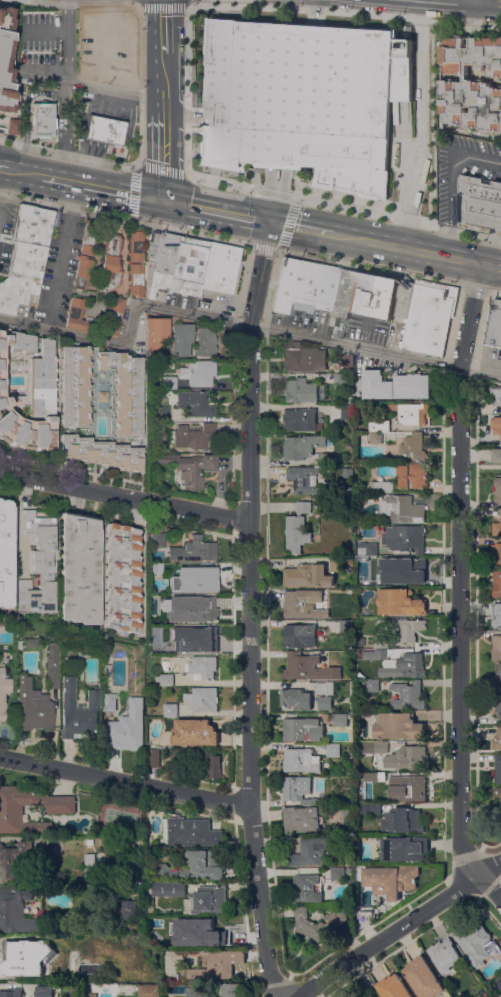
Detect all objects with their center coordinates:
road: (44, 1)
road: (467, 1)
road: (479, 1)
road: (490, 2)
road: (163, 5)
road: (344, 14)
road: (163, 28)
road: (47, 30)
building: (114, 34)
road: (67, 49)
building: (6, 60)
road: (164, 84)
building: (470, 85)
road: (97, 86)
road: (40, 92)
building: (304, 100)
building: (43, 119)
road: (430, 124)
building: (10, 125)
road: (187, 125)
road: (418, 125)
building: (105, 130)
road: (64, 139)
road: (24, 140)
road: (164, 156)
road: (102, 161)
road: (135, 166)
road: (3, 168)
road: (23, 172)
road: (449, 180)
road: (102, 188)
traffic signals: (163, 201)
building: (480, 204)
road: (216, 212)
road: (124, 217)
road: (397, 217)
road: (287, 219)
traffic signals: (270, 223)
road: (300, 228)
parking lot: (5, 230)
building: (89, 237)
building: (135, 245)
road: (61, 246)
road: (403, 249)
building: (24, 256)
building: (175, 263)
building: (110, 265)
road: (367, 266)
road: (489, 266)
building: (220, 267)
parking lot: (58, 268)
building: (83, 271)
building: (136, 279)
road: (471, 286)
building: (313, 287)
road: (493, 292)
building: (373, 295)
building: (404, 302)
building: (78, 315)
building: (114, 315)
road: (48, 319)
building: (429, 319)
road: (233, 321)
building: (494, 325)
building: (157, 334)
building: (181, 338)
building: (205, 342)
building: (303, 357)
building: (346, 360)
building: (198, 372)
building: (339, 379)
building: (169, 382)
building: (75, 385)
building: (377, 385)
building: (412, 386)
building: (102, 391)
building: (300, 391)
building: (125, 392)
building: (29, 395)
building: (496, 395)
building: (195, 404)
building: (163, 414)
building: (414, 415)
building: (299, 419)
building: (379, 426)
building: (493, 426)
building: (192, 435)
building: (375, 438)
building: (304, 446)
building: (413, 447)
building: (102, 452)
building: (497, 455)
building: (327, 458)
building: (189, 467)
building: (349, 470)
building: (412, 476)
building: (304, 479)
building: (382, 487)
building: (498, 490)
road: (125, 498)
building: (404, 510)
building: (500, 513)
building: (297, 528)
building: (496, 529)
building: (405, 537)
building: (157, 539)
building: (367, 549)
building: (194, 550)
building: (6, 553)
building: (496, 555)
building: (39, 564)
building: (337, 565)
building: (157, 568)
building: (80, 569)
building: (399, 571)
building: (307, 576)
building: (122, 577)
building: (197, 580)
building: (497, 583)
road: (459, 588)
building: (399, 603)
building: (303, 604)
building: (202, 610)
road: (249, 610)
building: (500, 617)
building: (2, 626)
building: (346, 626)
building: (402, 627)
building: (69, 635)
building: (300, 636)
building: (194, 638)
building: (360, 641)
building: (30, 642)
building: (497, 647)
building: (373, 654)
building: (404, 663)
building: (52, 665)
building: (170, 666)
building: (202, 667)
building: (308, 668)
building: (106, 669)
building: (498, 678)
building: (164, 679)
building: (372, 685)
building: (324, 688)
building: (3, 693)
building: (408, 696)
building: (296, 699)
building: (202, 700)
building: (109, 702)
building: (324, 703)
building: (497, 703)
building: (33, 705)
building: (78, 710)
building: (170, 710)
building: (340, 720)
building: (397, 726)
building: (302, 729)
building: (128, 730)
building: (195, 733)
building: (498, 739)
building: (375, 747)
building: (333, 750)
building: (153, 758)
building: (406, 758)
building: (301, 761)
building: (213, 767)
building: (497, 769)
building: (374, 776)
road: (124, 781)
building: (408, 786)
building: (298, 790)
building: (496, 792)
building: (500, 806)
building: (61, 809)
building: (369, 809)
building: (302, 819)
building: (404, 820)
building: (114, 831)
building: (192, 833)
building: (88, 842)
building: (54, 843)
building: (403, 848)
building: (312, 851)
building: (14, 860)
building: (89, 865)
building: (197, 866)
building: (338, 874)
building: (391, 880)
building: (306, 888)
building: (166, 889)
building: (208, 900)
building: (128, 910)
building: (18, 913)
building: (364, 918)
building: (188, 921)
road: (399, 922)
building: (318, 925)
building: (210, 936)
building: (476, 943)
building: (445, 955)
building: (14, 962)
building: (214, 967)
building: (424, 977)
building: (394, 987)
building: (150, 990)
building: (235, 990)
building: (43, 991)
building: (11, 992)
building: (199, 992)
building: (91, 995)
building: (500, 995)
building: (373, 996)

